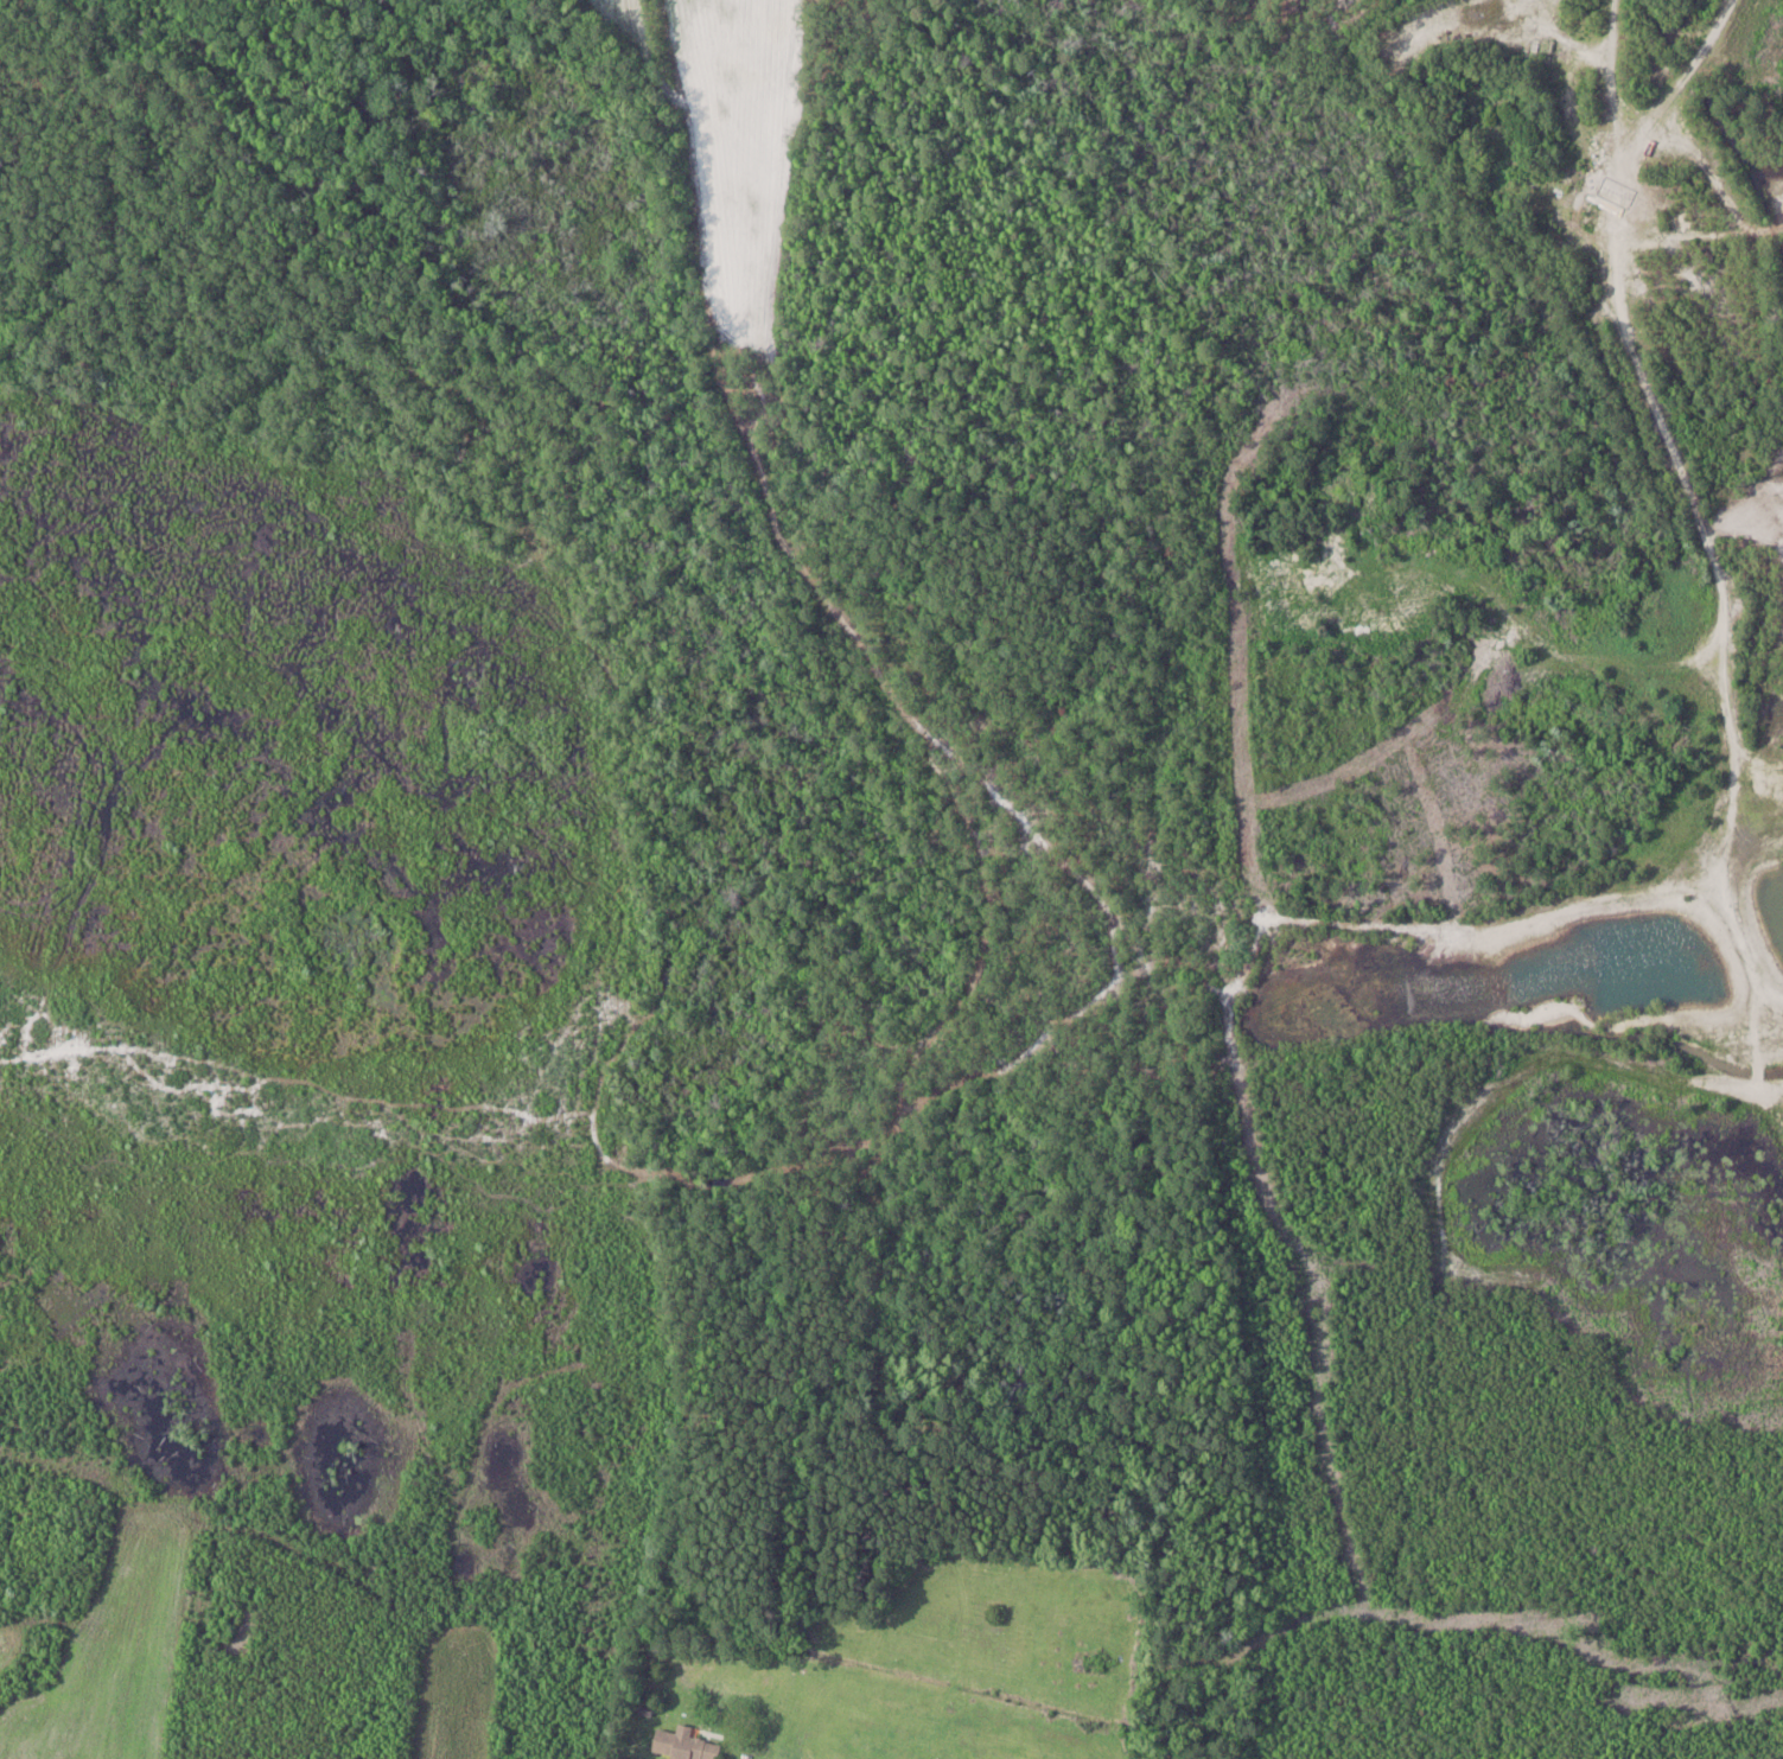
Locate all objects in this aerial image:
road: (675, 81)
road: (877, 1160)
building: (684, 1745)

